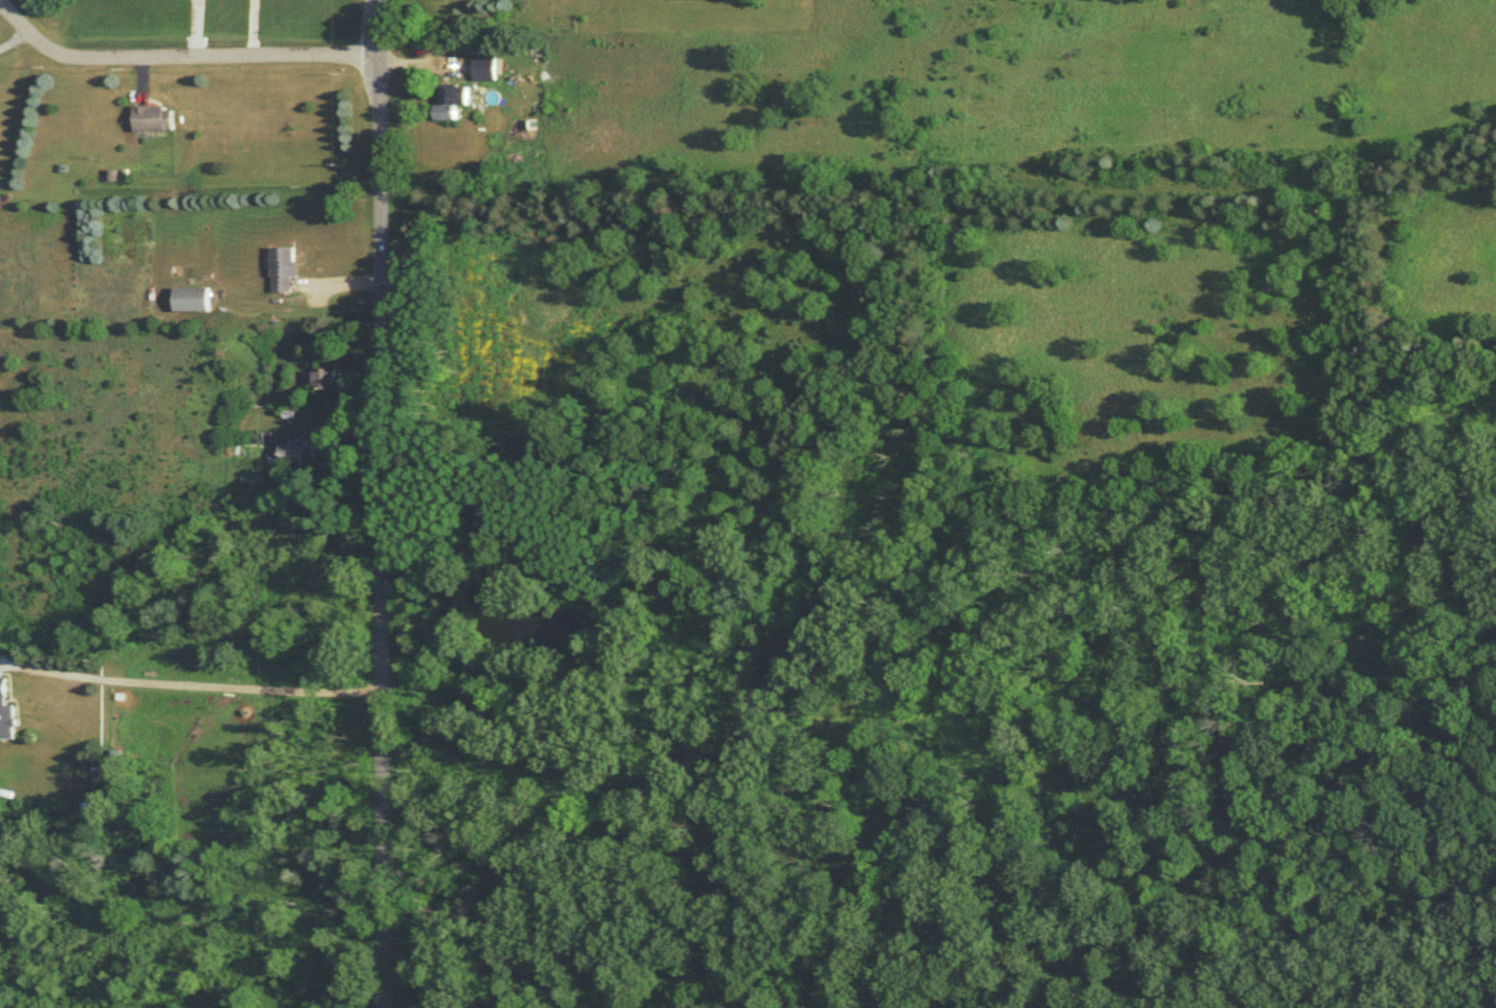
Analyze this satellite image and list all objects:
building: (488, 21)
road: (14, 38)
road: (180, 59)
building: (485, 69)
building: (452, 102)
building: (154, 120)
road: (940, 200)
building: (284, 271)
building: (192, 301)
building: (327, 380)
building: (295, 456)
road: (381, 504)
parking lot: (477, 515)
road: (438, 540)
road: (206, 682)
building: (8, 719)
road: (604, 742)
road: (944, 927)
road: (1326, 956)
river: (1363, 973)
parking lot: (378, 988)
road: (400, 998)
road: (475, 1001)

